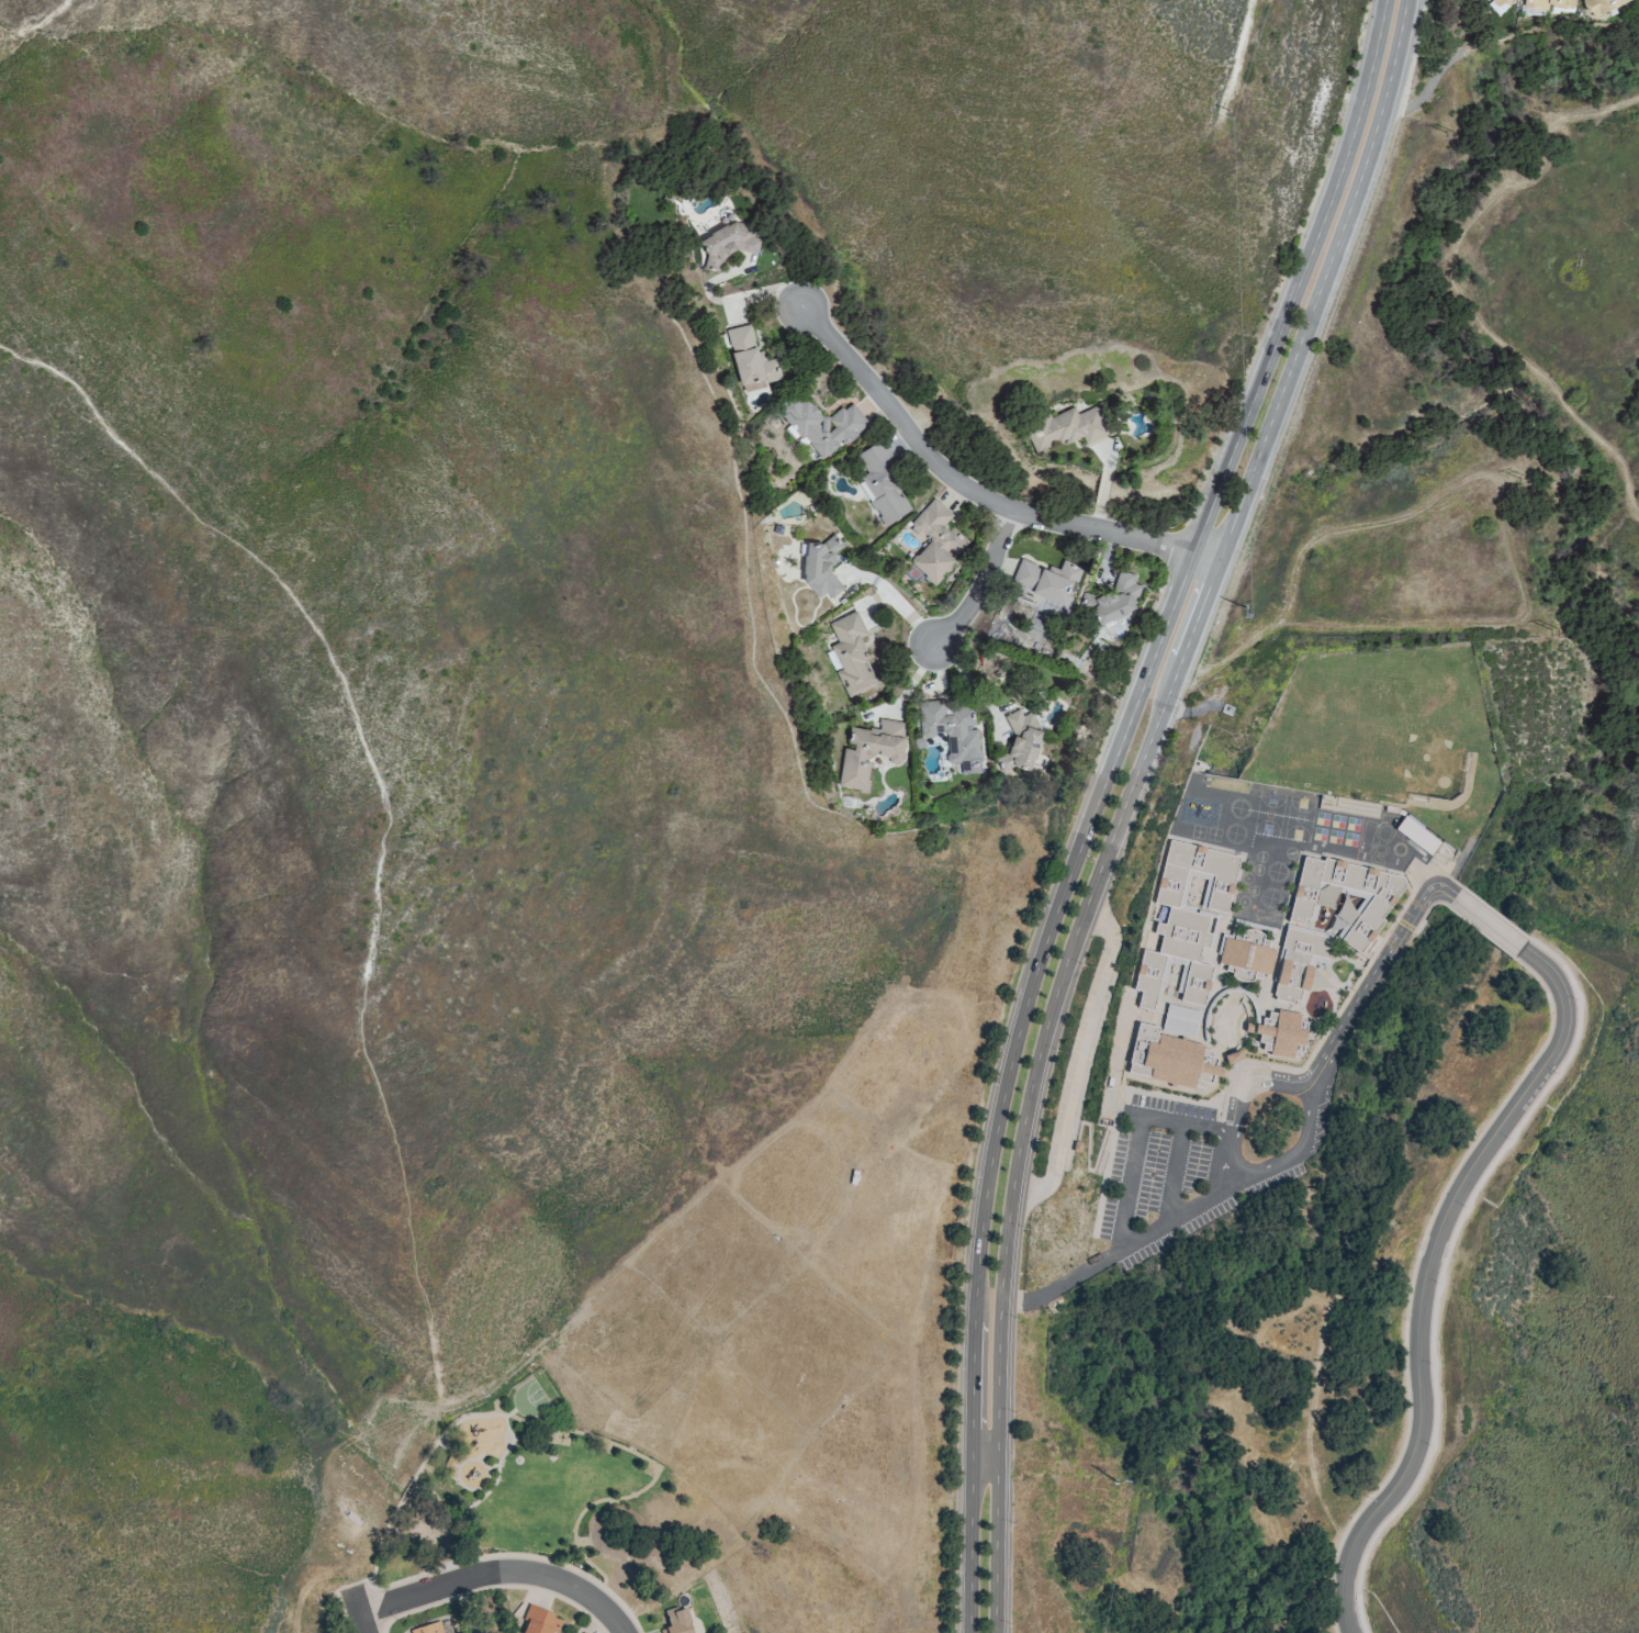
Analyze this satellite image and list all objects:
building: (1498, 2)
building: (1547, 3)
building: (1599, 5)
road: (1394, 52)
road: (1504, 82)
building: (726, 243)
building: (750, 359)
building: (820, 424)
building: (1064, 427)
building: (880, 483)
road: (973, 493)
building: (934, 540)
building: (820, 566)
building: (1044, 579)
road: (983, 585)
building: (1111, 599)
road: (894, 601)
building: (849, 653)
road: (972, 682)
building: (1020, 740)
building: (868, 751)
road: (1099, 799)
road: (388, 820)
building: (1417, 836)
road: (1107, 850)
road: (1448, 877)
road: (1446, 892)
building: (1377, 902)
road: (1428, 909)
road: (1494, 913)
building: (1187, 921)
road: (1488, 922)
road: (1481, 932)
building: (1247, 951)
building: (1299, 961)
road: (1371, 987)
building: (1208, 1015)
building: (1181, 1020)
building: (1281, 1032)
road: (1077, 1056)
building: (1233, 1056)
building: (1171, 1059)
road: (1292, 1080)
road: (1217, 1133)
road: (1135, 1151)
road: (1171, 1175)
road: (1135, 1242)
road: (1444, 1267)
road: (1425, 1273)
road: (1412, 1282)
road: (1030, 1299)
road: (1011, 1300)
park: (1438, 1323)
park: (528, 1400)
road: (461, 1420)
road: (985, 1458)
road: (650, 1481)
park: (536, 1498)
road: (498, 1572)
road: (358, 1613)
building: (540, 1620)
building: (682, 1621)
building: (428, 1629)
building: (583, 1632)

